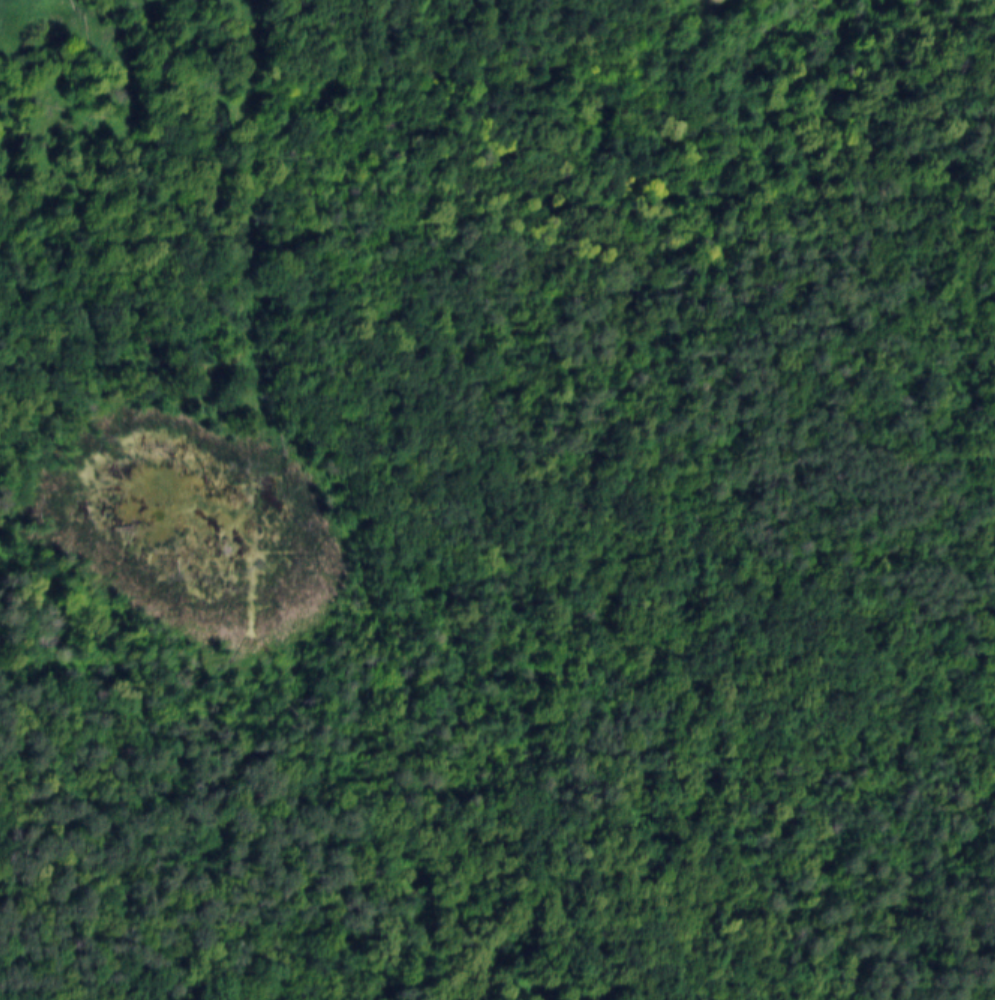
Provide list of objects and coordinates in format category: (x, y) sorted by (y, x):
road: (126, 659)

